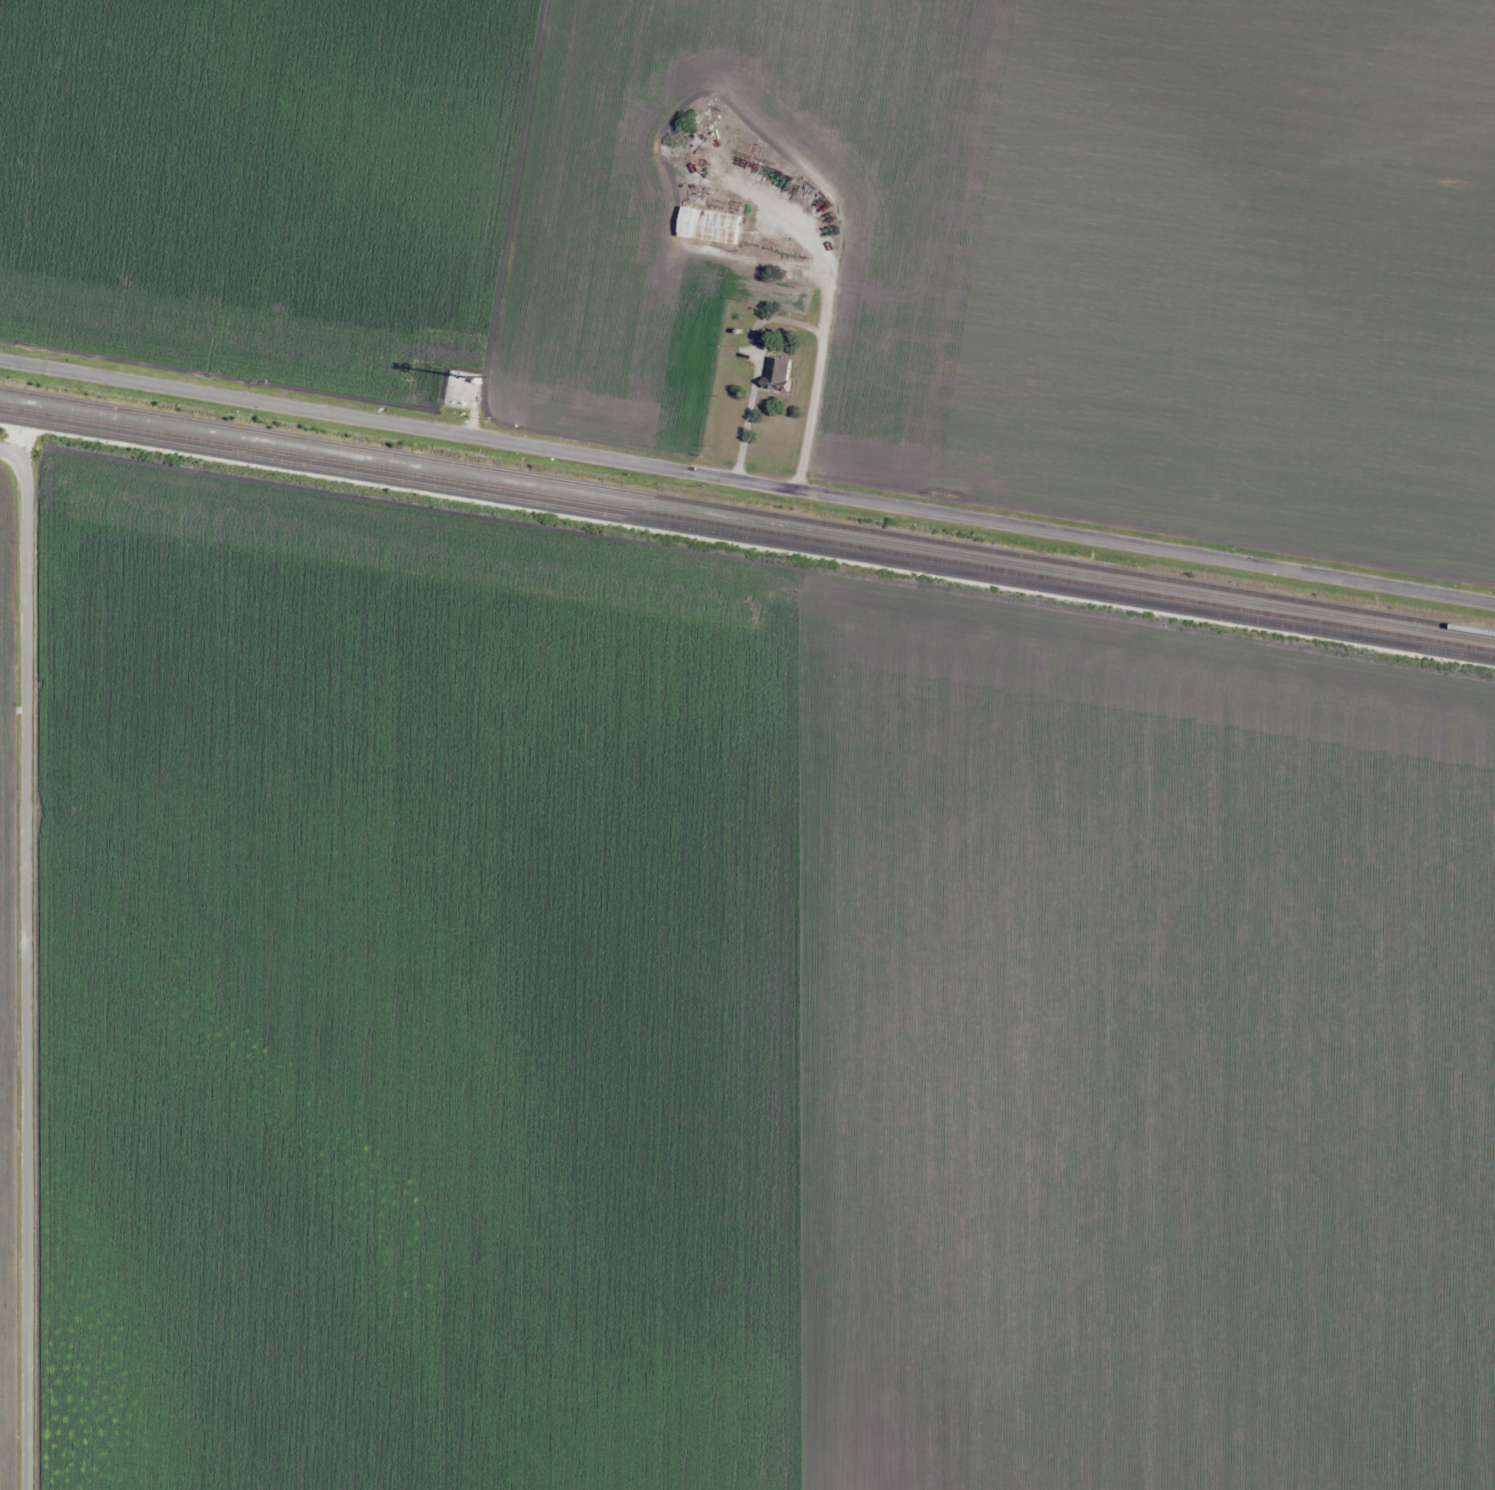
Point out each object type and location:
building: (696, 219)
crop: (357, 274)
building: (782, 374)
road: (747, 482)
railway: (747, 515)
railway: (747, 527)
road: (31, 963)

